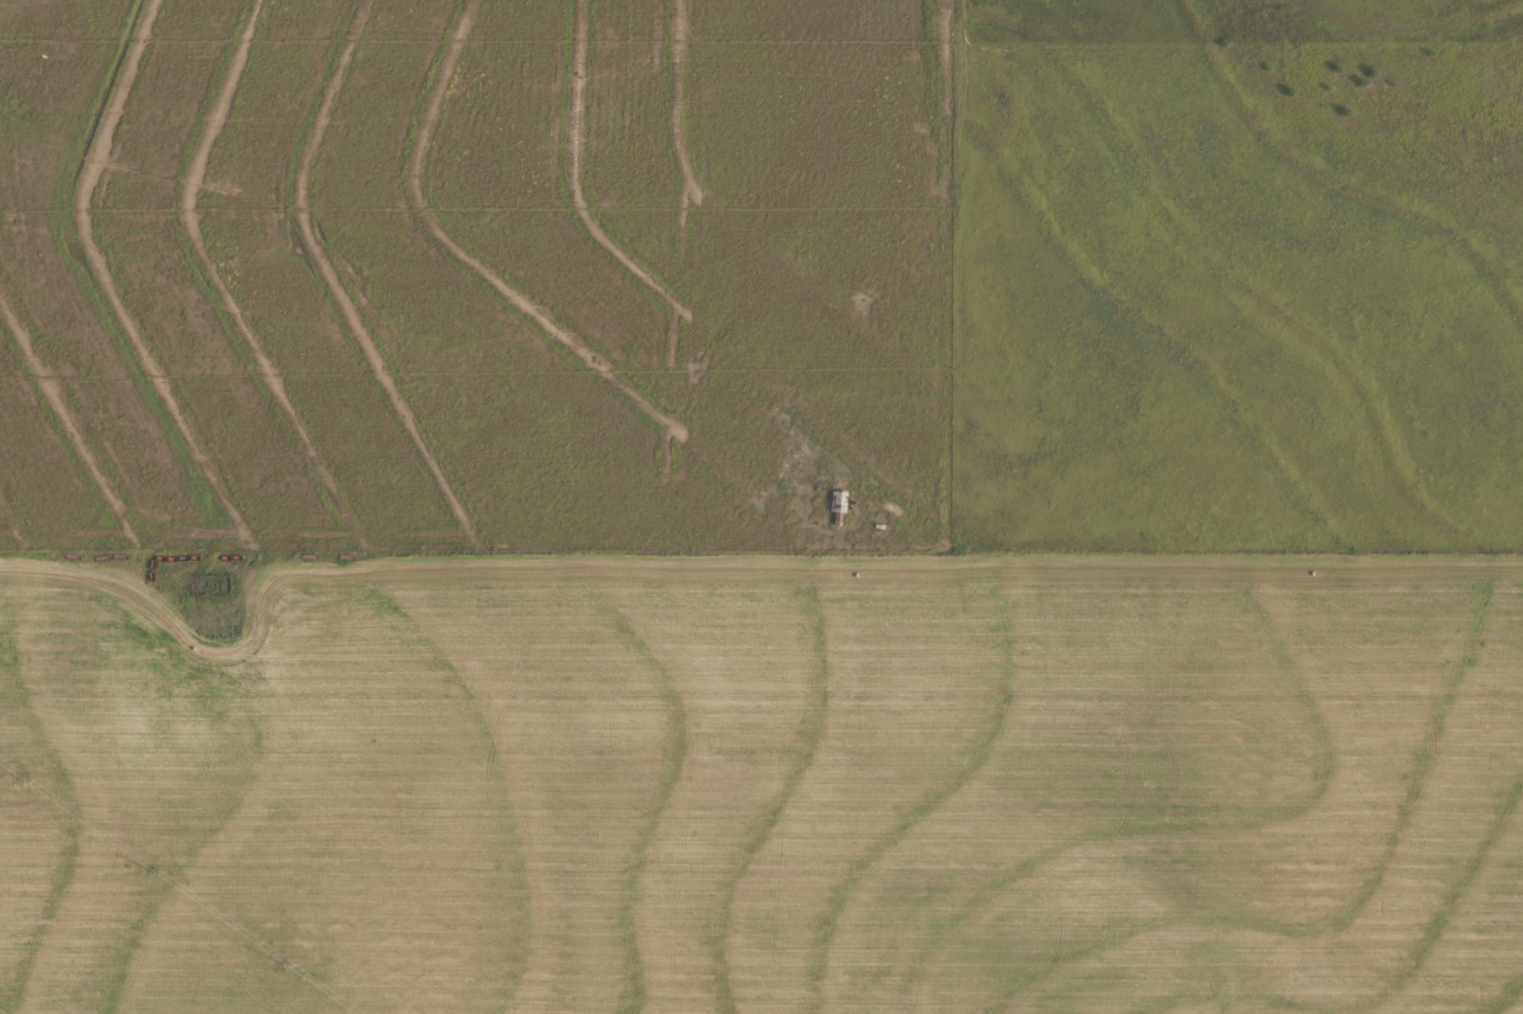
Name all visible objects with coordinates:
building: (837, 501)

